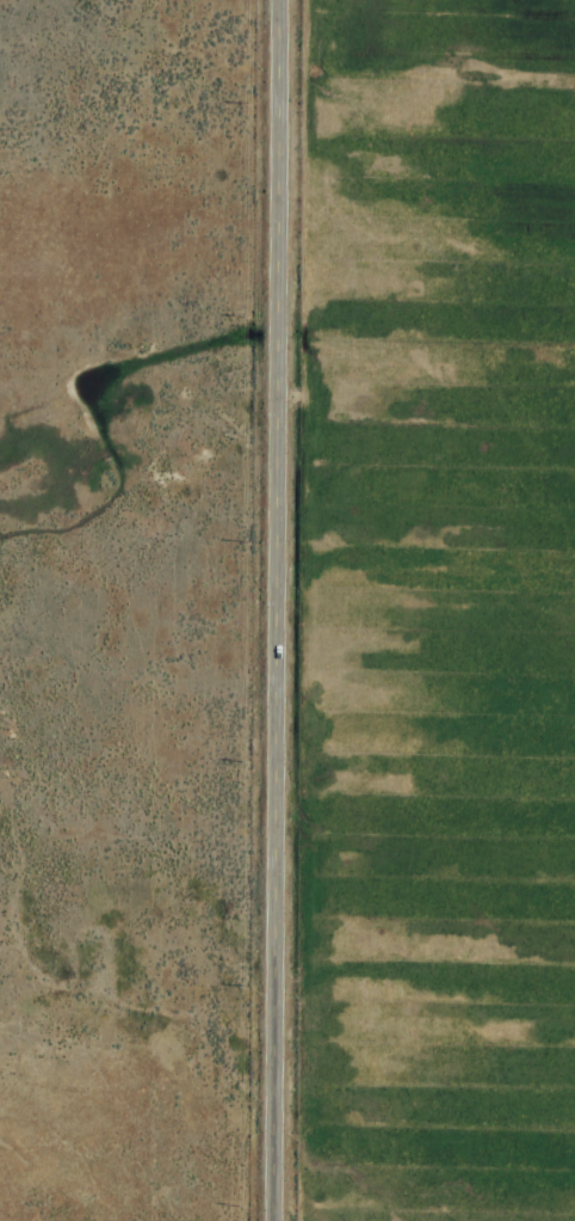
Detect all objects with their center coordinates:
road: (277, 610)
crop: (287, 610)

